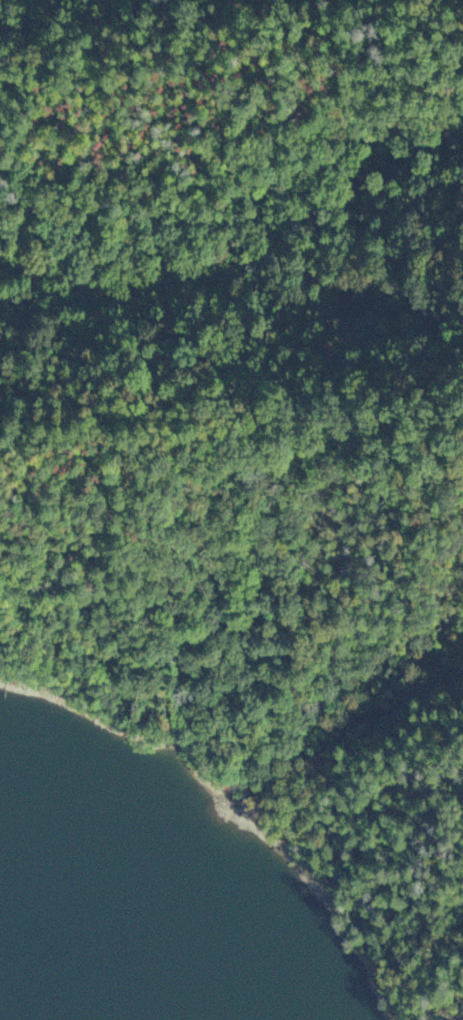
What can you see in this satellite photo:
river: (13, 1002)

